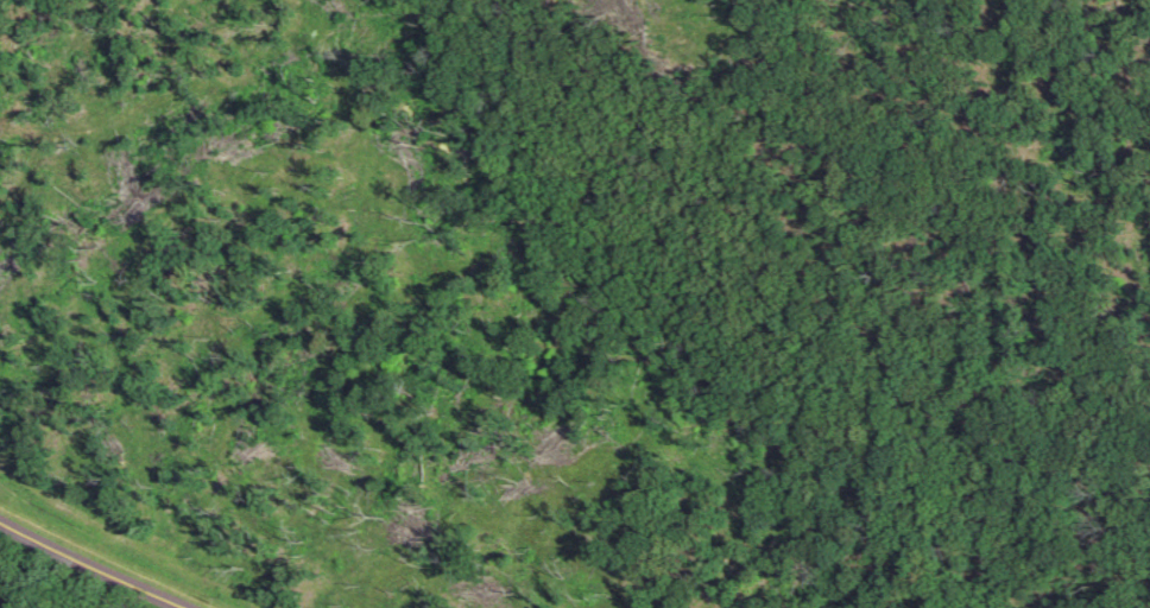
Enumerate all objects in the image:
road: (102, 560)

